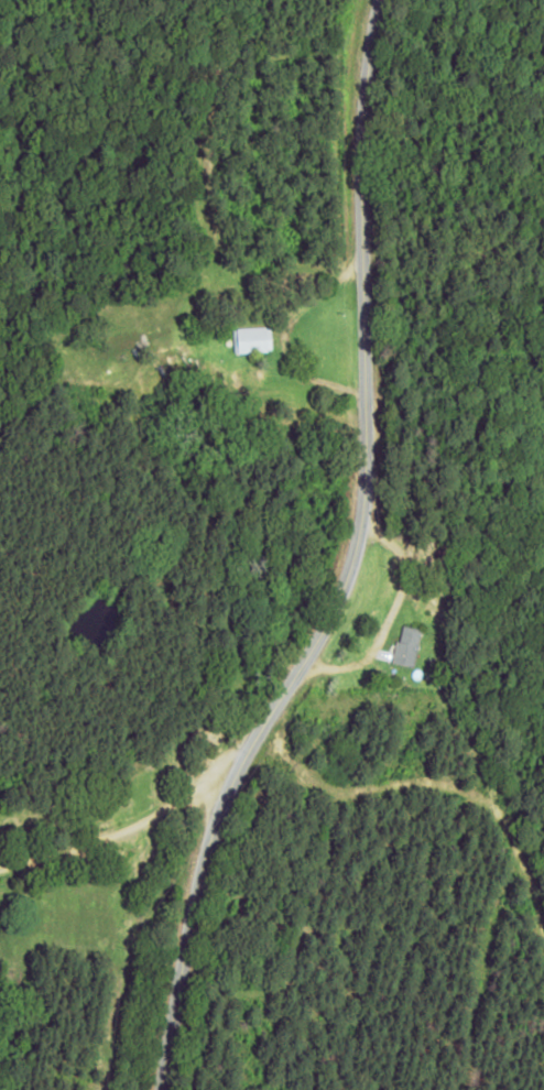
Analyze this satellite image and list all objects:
building: (251, 339)
road: (399, 557)
building: (406, 645)
road: (157, 850)

